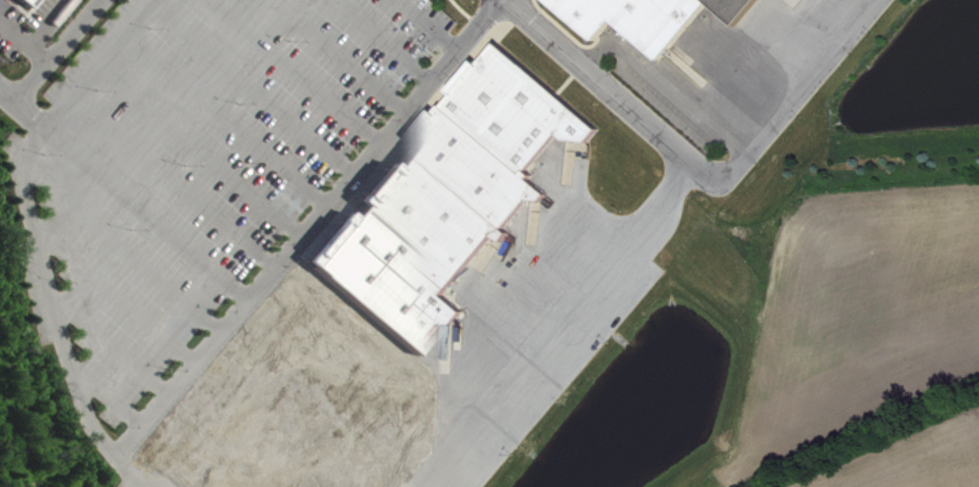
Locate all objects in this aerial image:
building: (734, 8)
road: (474, 18)
building: (635, 18)
road: (431, 24)
road: (383, 42)
road: (56, 51)
road: (338, 56)
road: (98, 64)
road: (311, 86)
road: (609, 89)
road: (790, 94)
building: (517, 107)
road: (285, 116)
road: (156, 128)
road: (258, 148)
parking lot: (198, 154)
building: (475, 165)
road: (231, 180)
building: (427, 215)
road: (309, 228)
road: (41, 266)
building: (368, 283)
road: (581, 329)
road: (129, 471)

